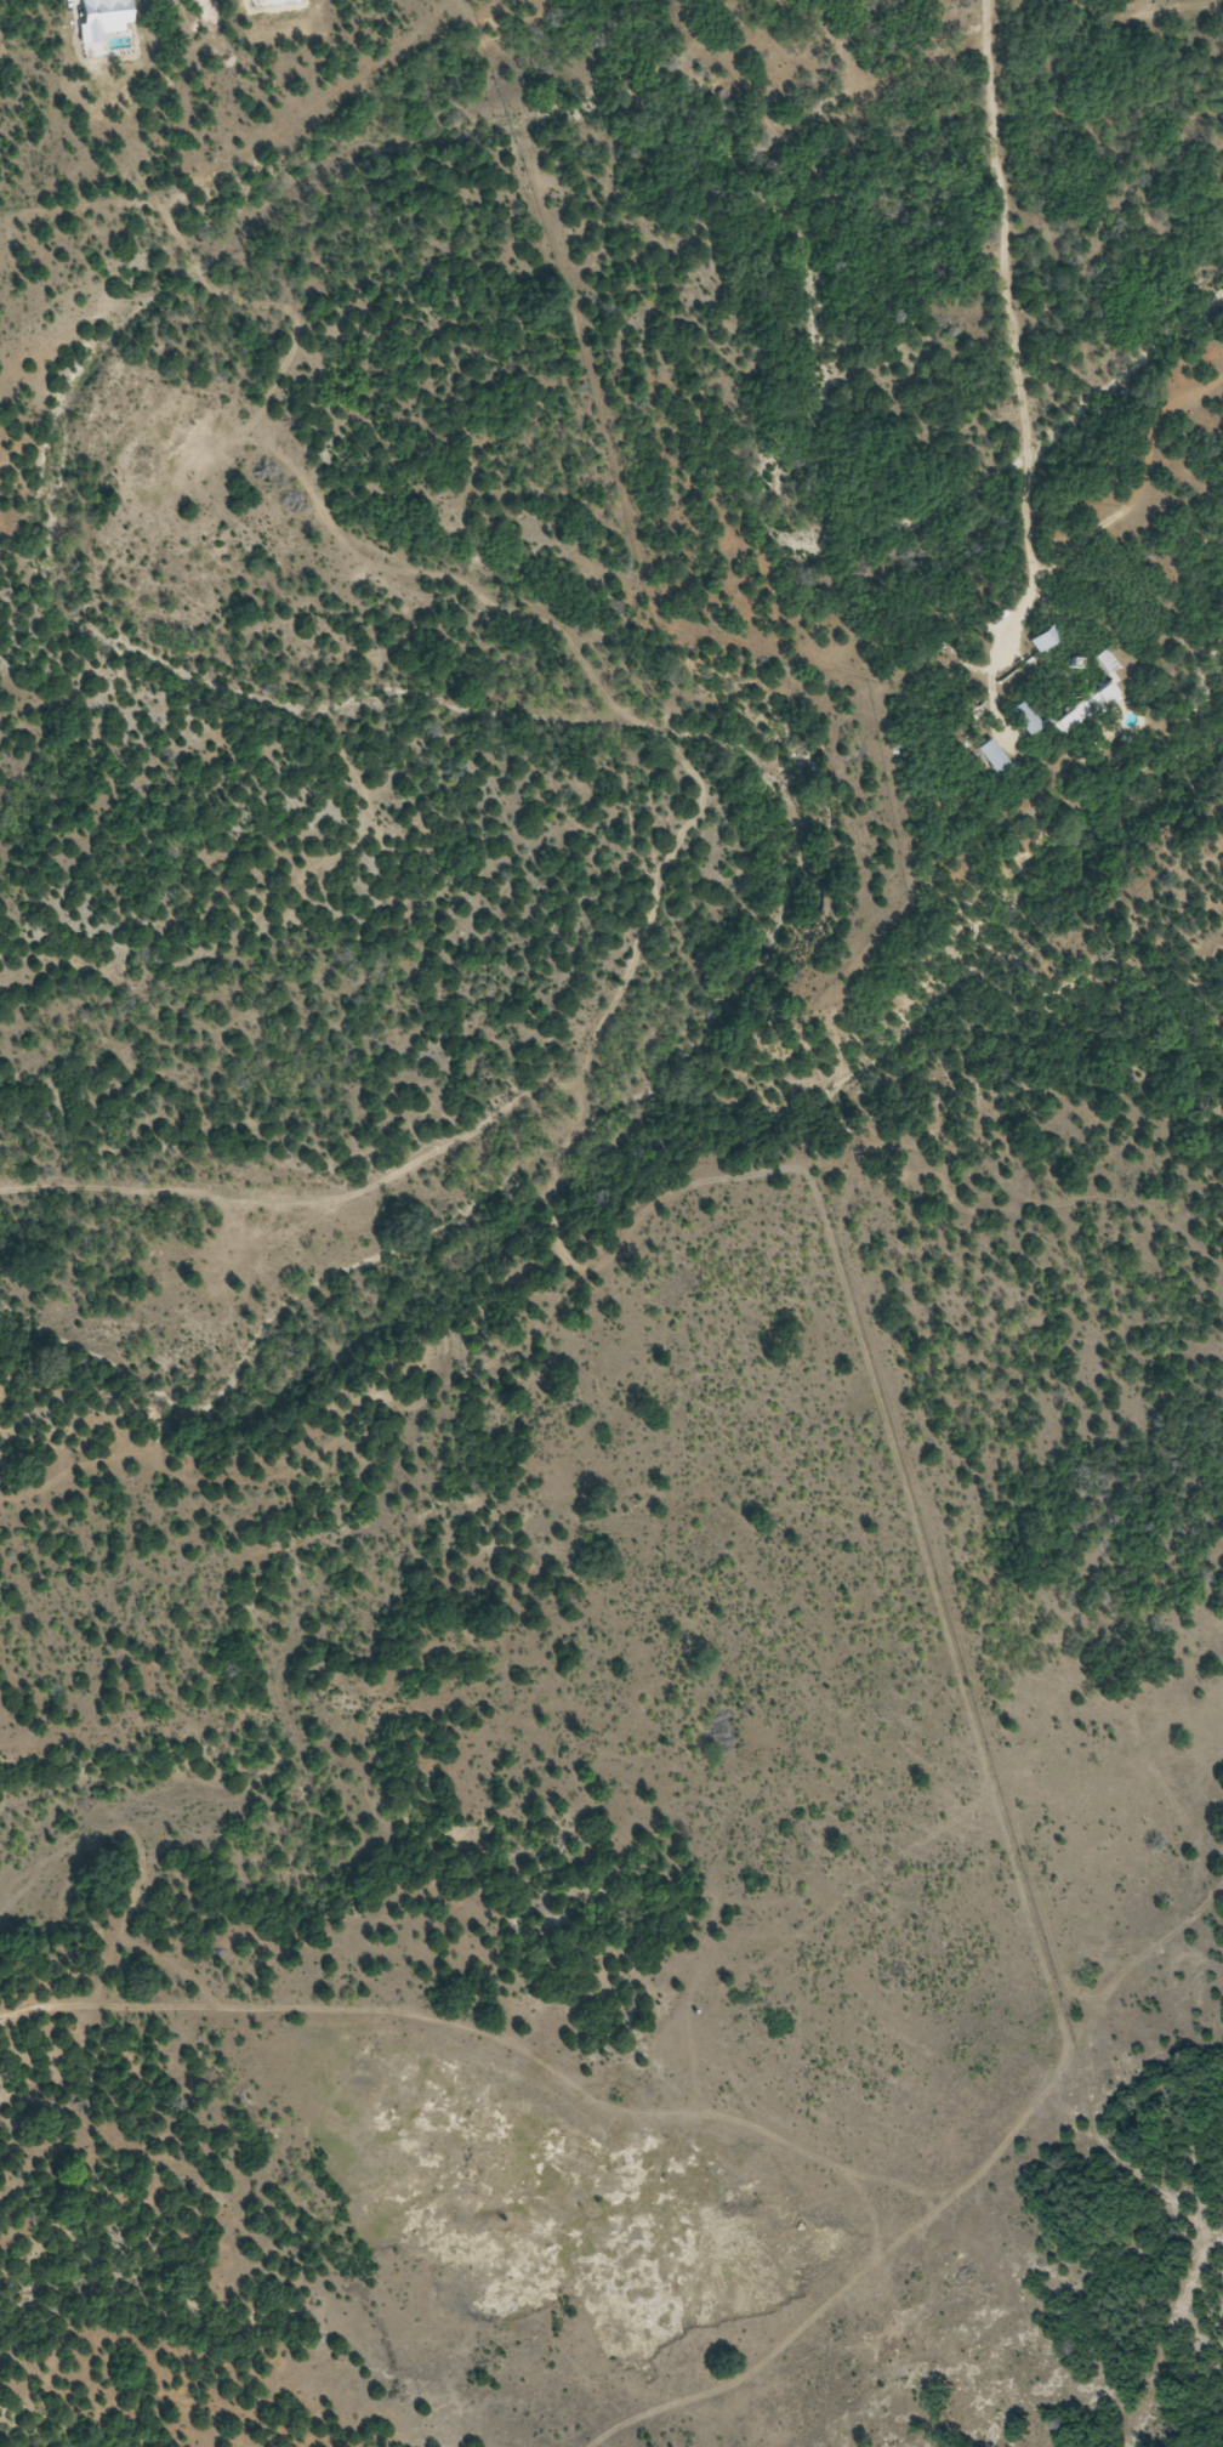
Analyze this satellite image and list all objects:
building: (1043, 637)
building: (1024, 717)
building: (991, 756)

